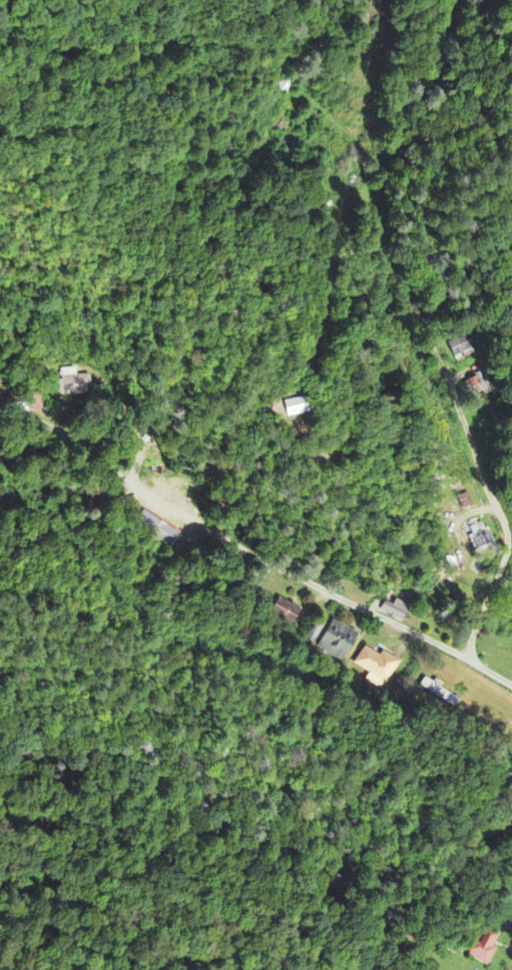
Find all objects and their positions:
river: (403, 79)
river: (365, 177)
road: (422, 326)
river: (430, 384)
building: (74, 389)
building: (293, 407)
building: (157, 530)
road: (245, 550)
river: (492, 589)
river: (503, 610)
building: (395, 611)
building: (285, 612)
building: (336, 641)
building: (376, 667)

